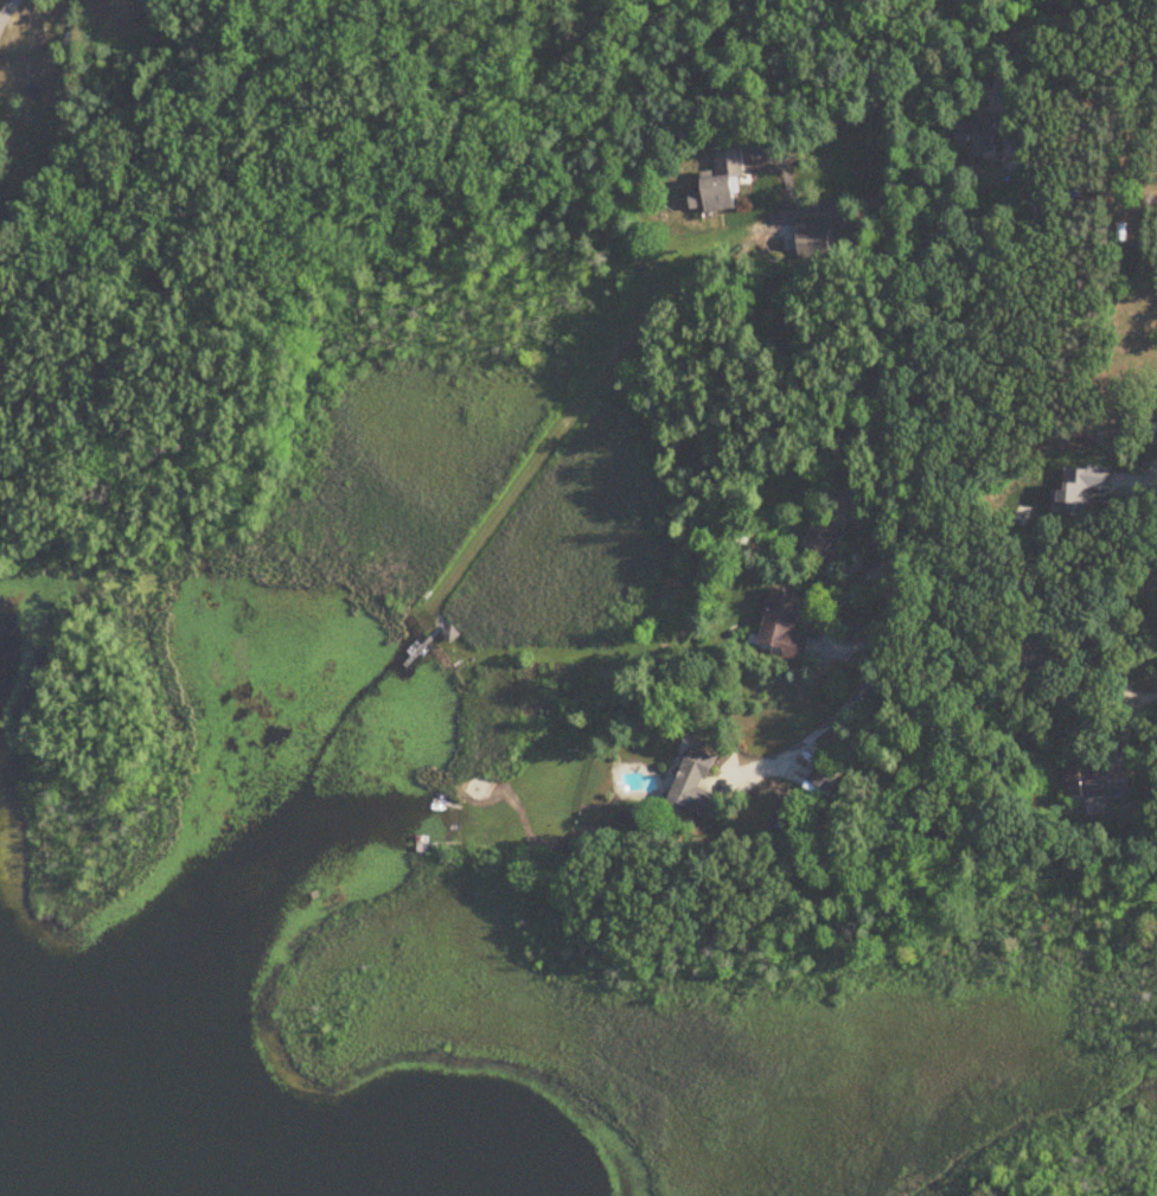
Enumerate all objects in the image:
road: (6, 12)
road: (1072, 12)
road: (963, 87)
road: (823, 128)
road: (120, 135)
building: (982, 136)
road: (1093, 165)
building: (722, 185)
building: (813, 245)
road: (889, 379)
road: (1150, 487)
building: (1084, 488)
building: (824, 541)
building: (784, 625)
building: (1041, 655)
road: (1148, 696)
building: (776, 728)
building: (827, 776)
building: (1097, 782)
building: (695, 788)

